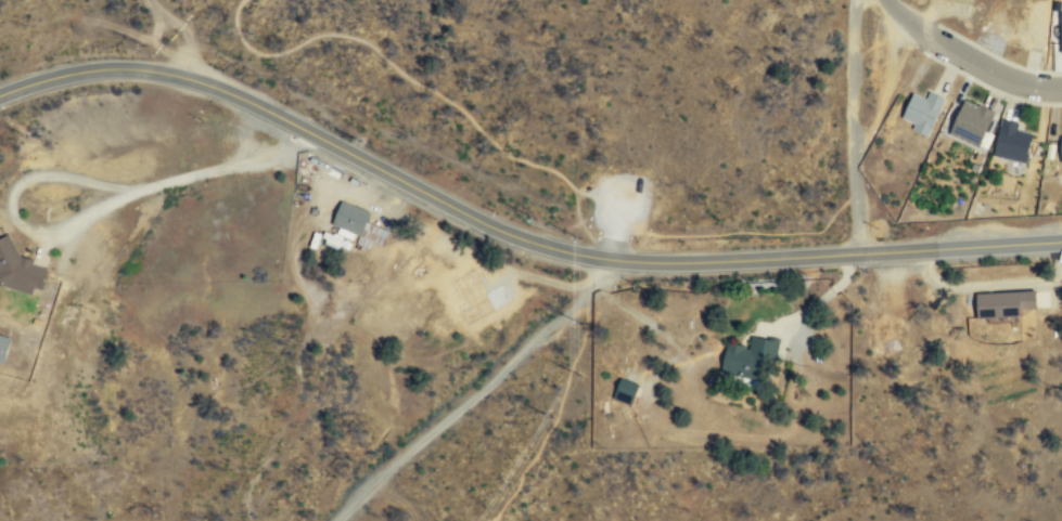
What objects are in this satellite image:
building: (1029, 27)
building: (1058, 39)
road: (965, 63)
road: (431, 90)
building: (922, 112)
building: (971, 122)
road: (852, 126)
building: (1011, 141)
building: (1061, 151)
road: (583, 191)
parking lot: (619, 203)
building: (360, 224)
road: (512, 233)
road: (294, 239)
building: (20, 268)
building: (1007, 301)
building: (4, 347)
building: (751, 356)
road: (564, 394)
road: (460, 405)
road: (290, 414)

